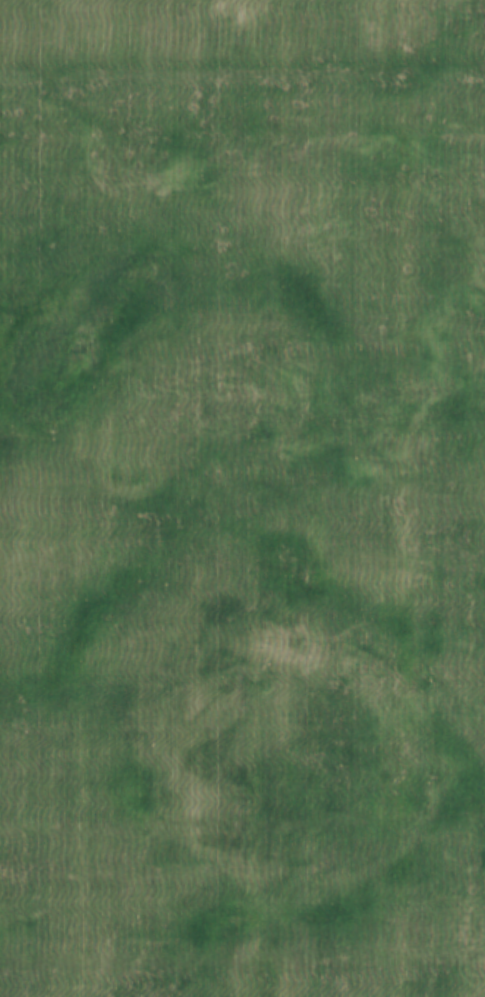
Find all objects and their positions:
road: (242, 76)

